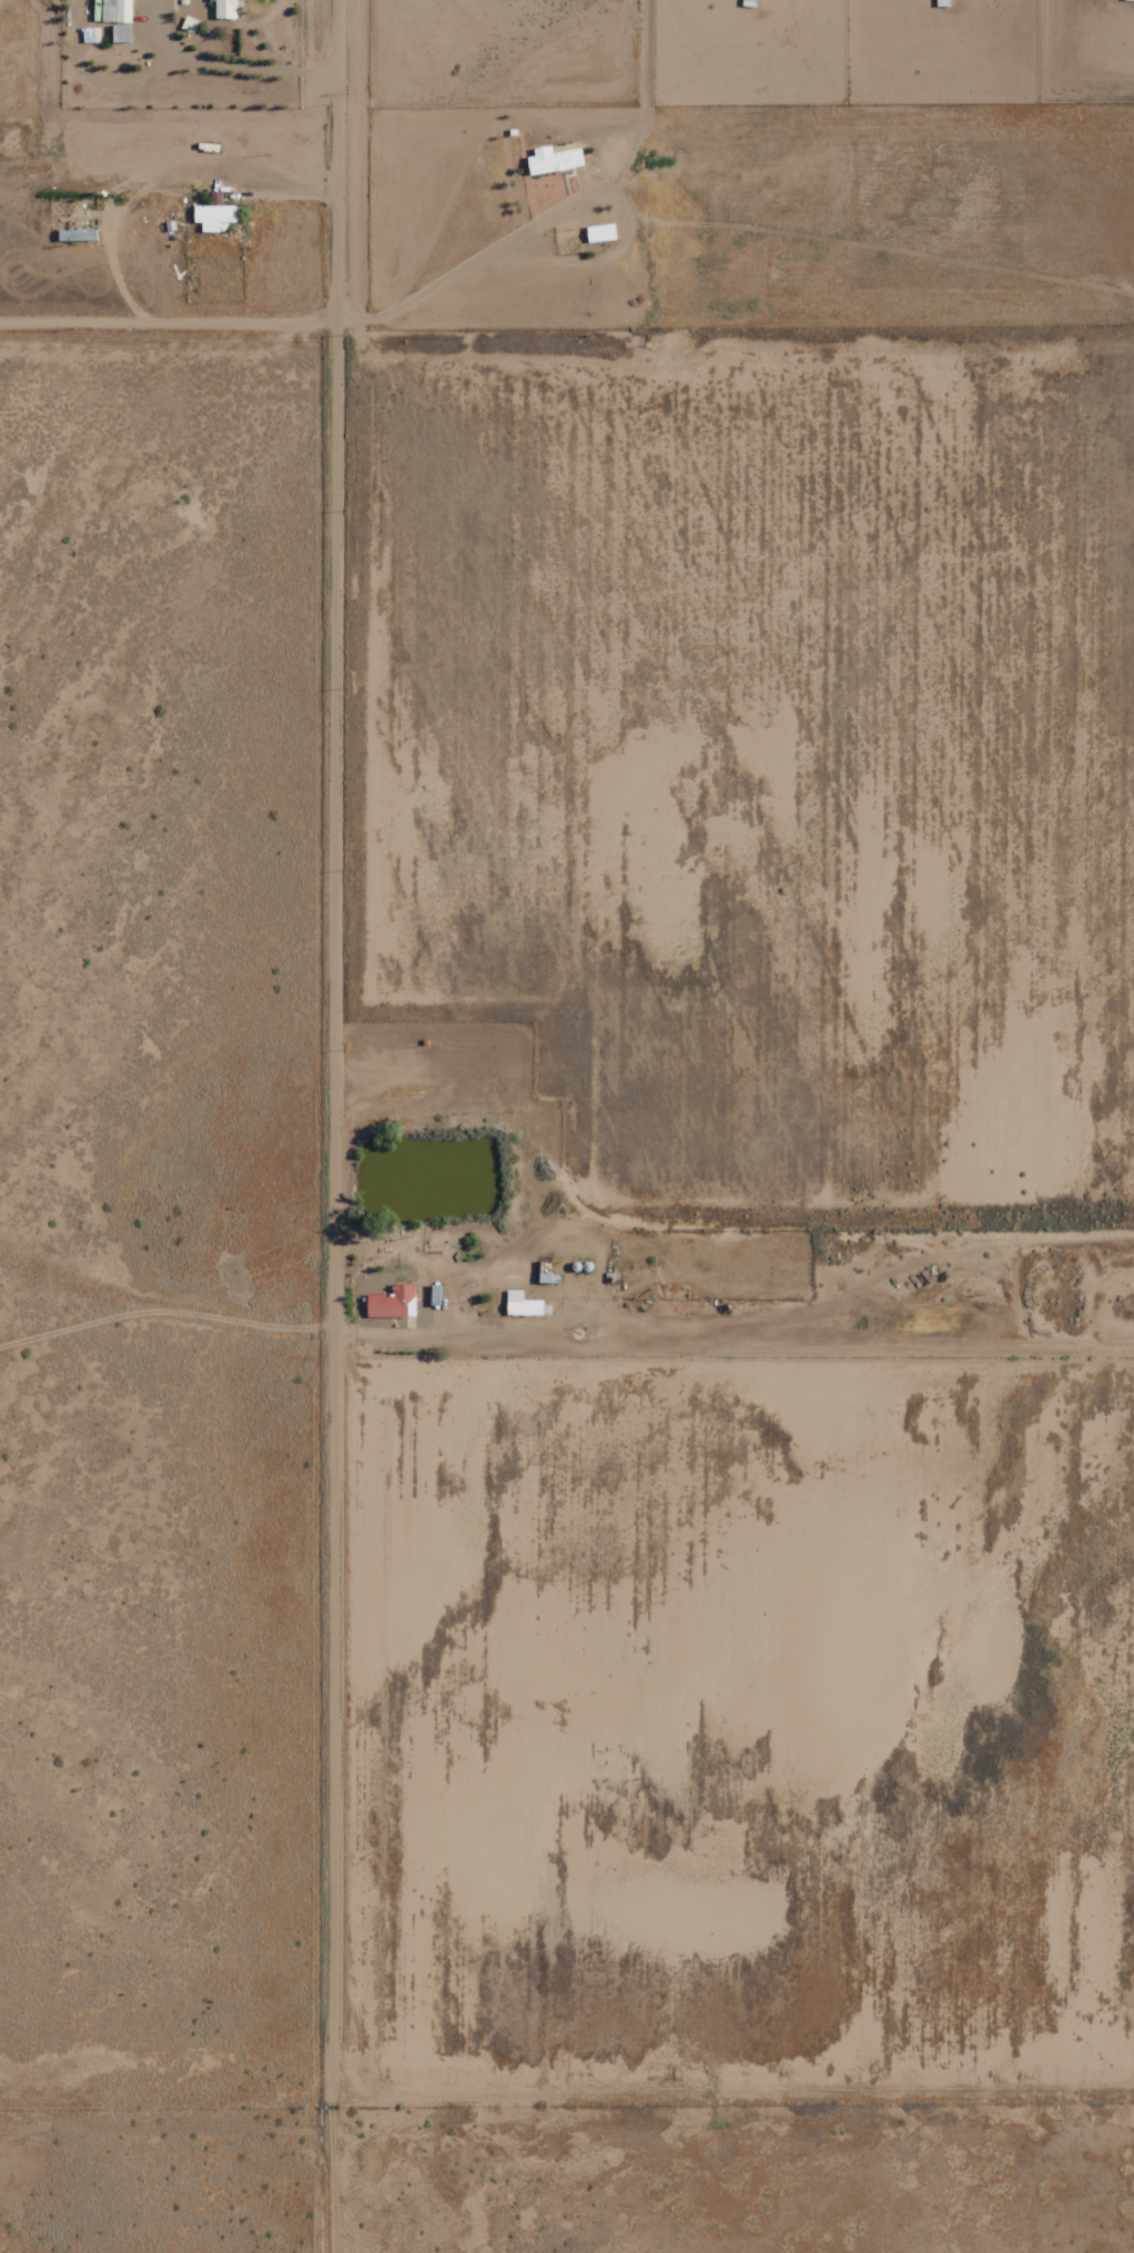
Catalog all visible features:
building: (117, 11)
building: (556, 160)
building: (217, 216)
building: (603, 233)
building: (78, 235)
road: (304, 1125)
building: (395, 1302)
road: (679, 1333)

